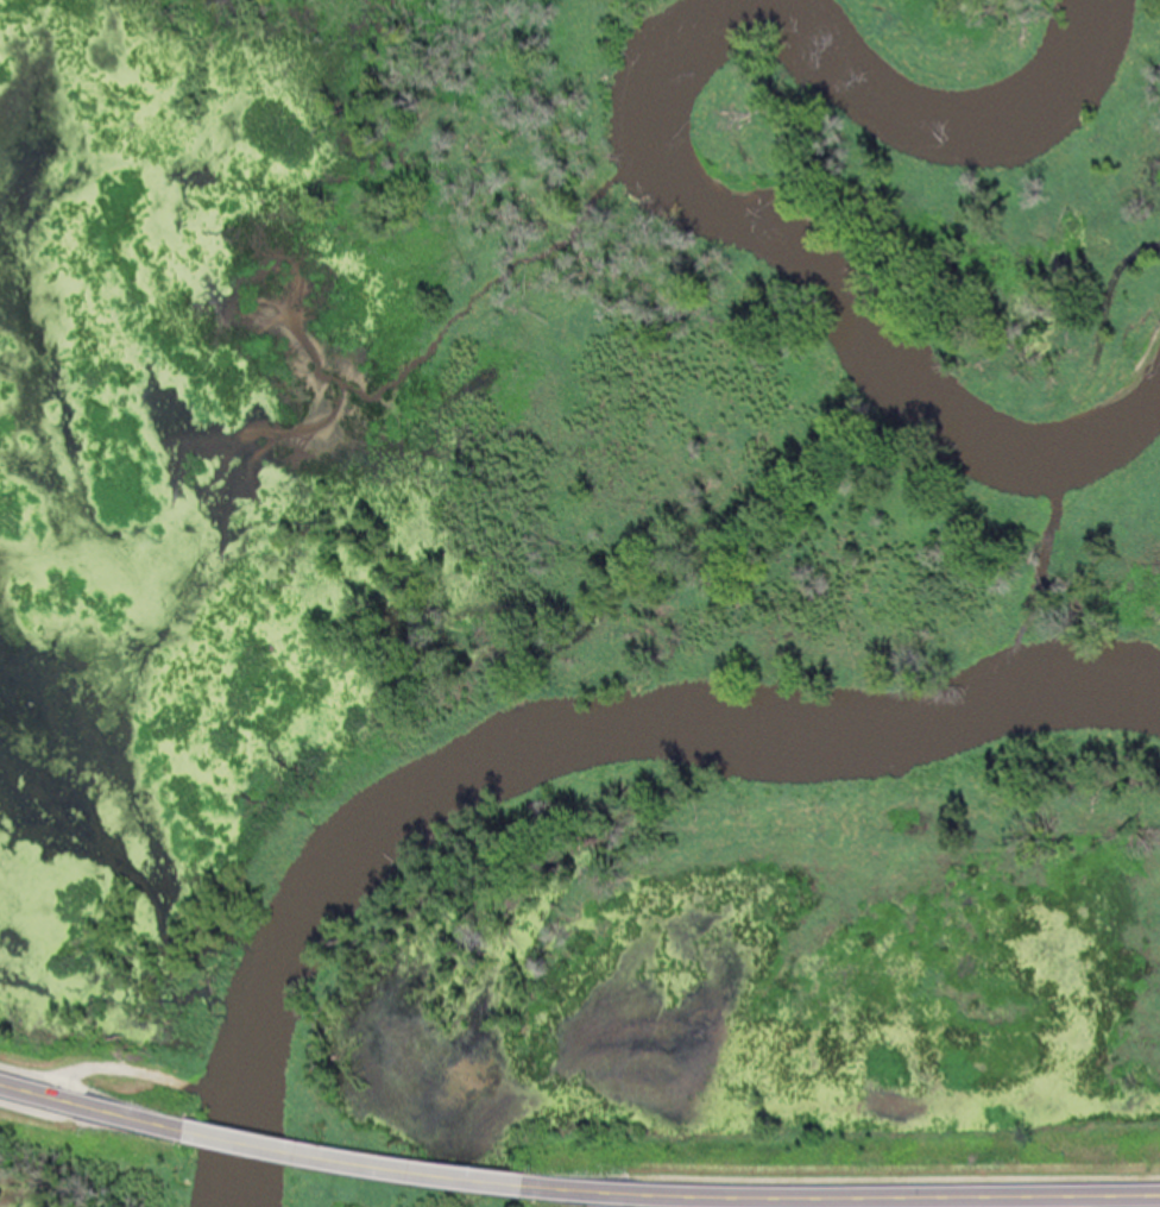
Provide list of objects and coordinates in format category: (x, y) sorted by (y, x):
road: (116, 1069)
road: (92, 1105)
road: (351, 1161)
road: (839, 1195)

